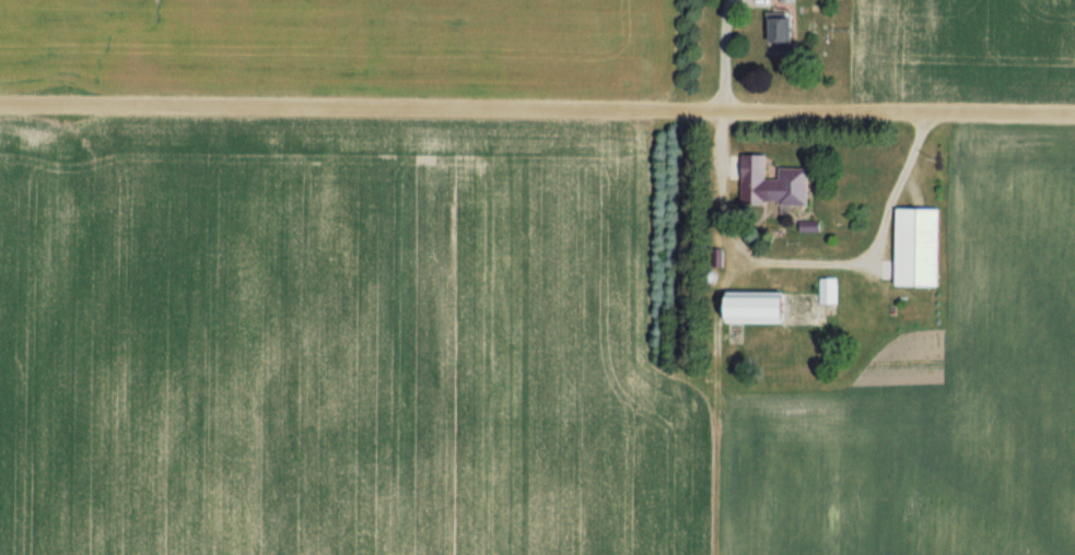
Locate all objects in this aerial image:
building: (783, 25)
road: (724, 55)
road: (537, 108)
building: (788, 186)
building: (922, 246)
road: (808, 260)
building: (827, 288)
building: (761, 306)

